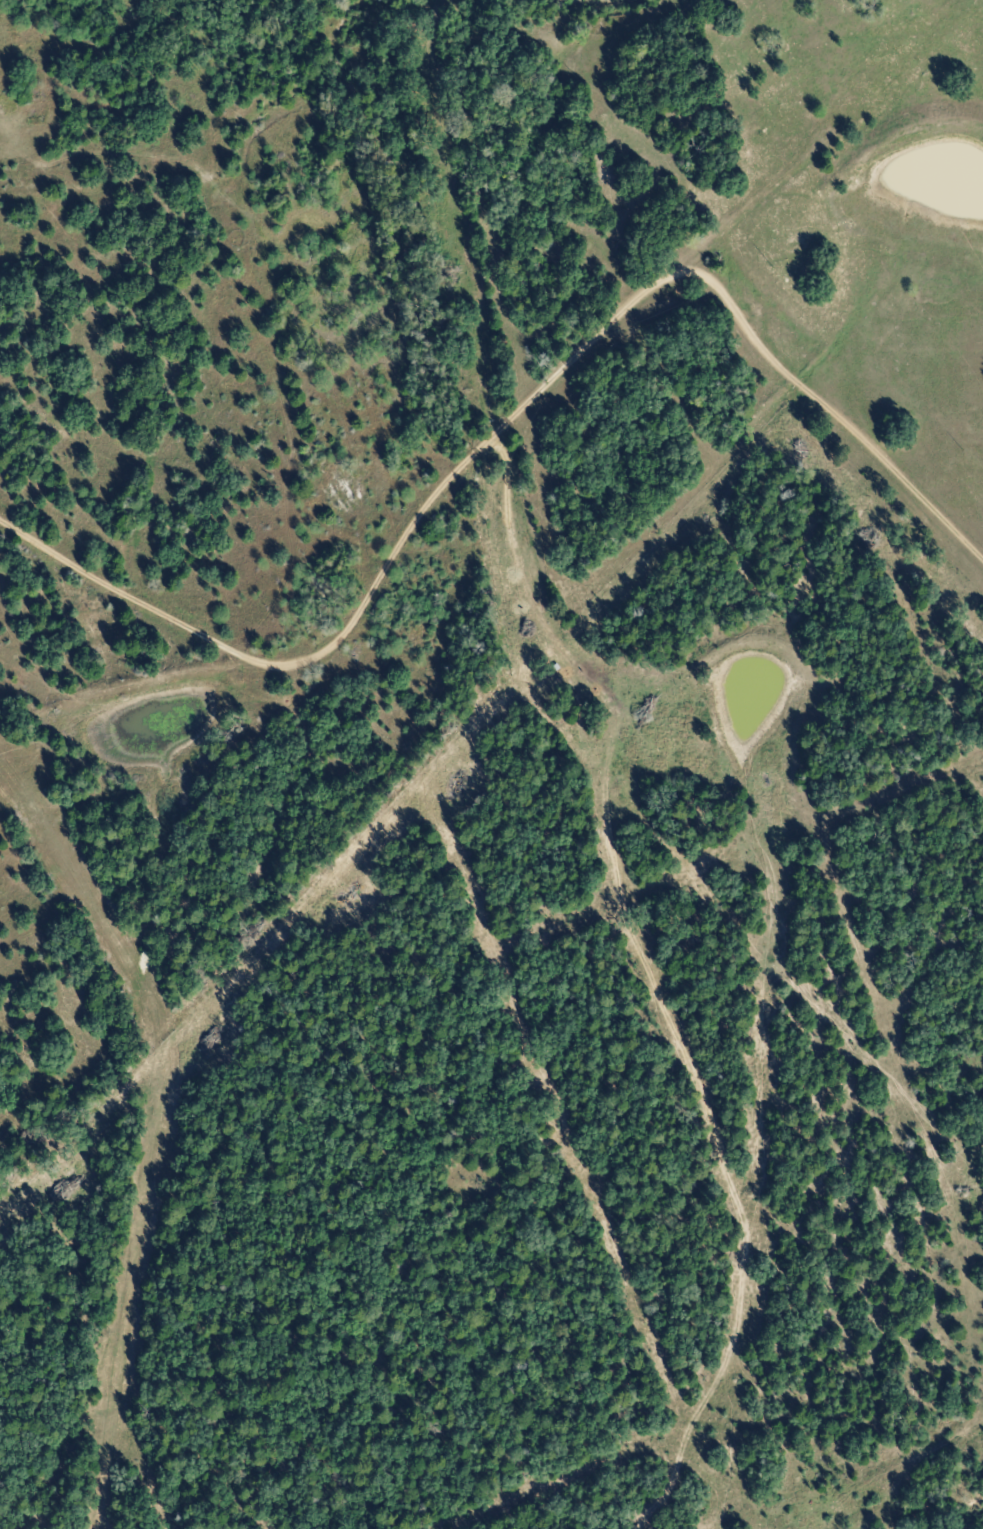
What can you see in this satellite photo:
road: (892, 1478)

